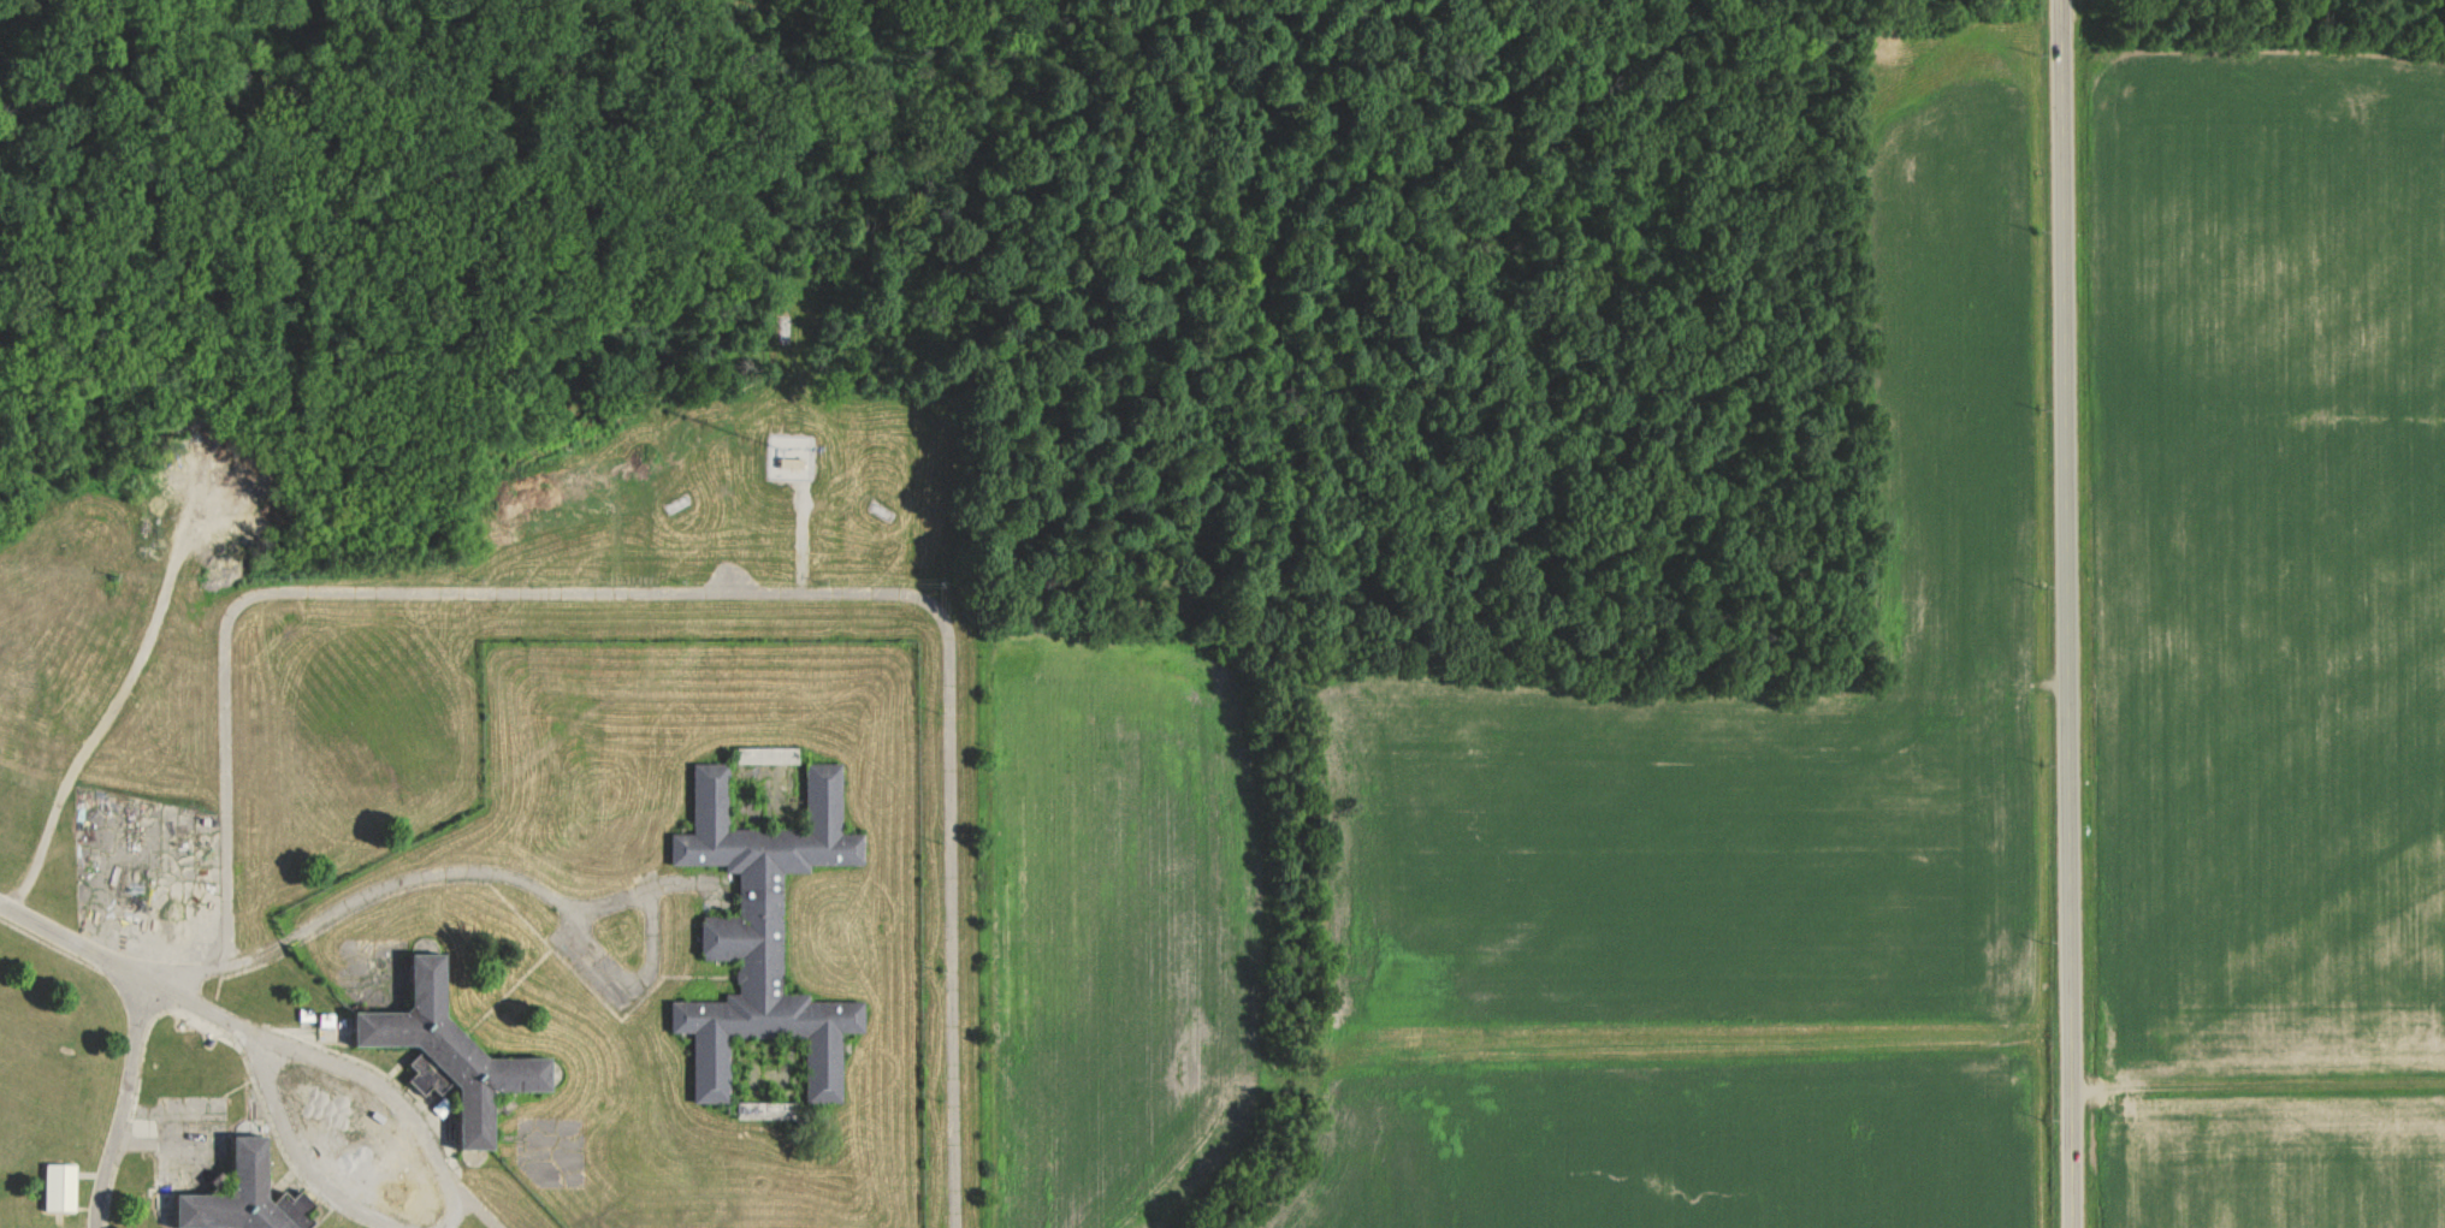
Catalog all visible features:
building: (794, 463)
road: (2064, 613)
building: (771, 755)
road: (357, 903)
building: (758, 944)
road: (126, 973)
road: (637, 995)
road: (280, 1046)
building: (449, 1057)
road: (120, 1105)
building: (59, 1187)
building: (243, 1196)

